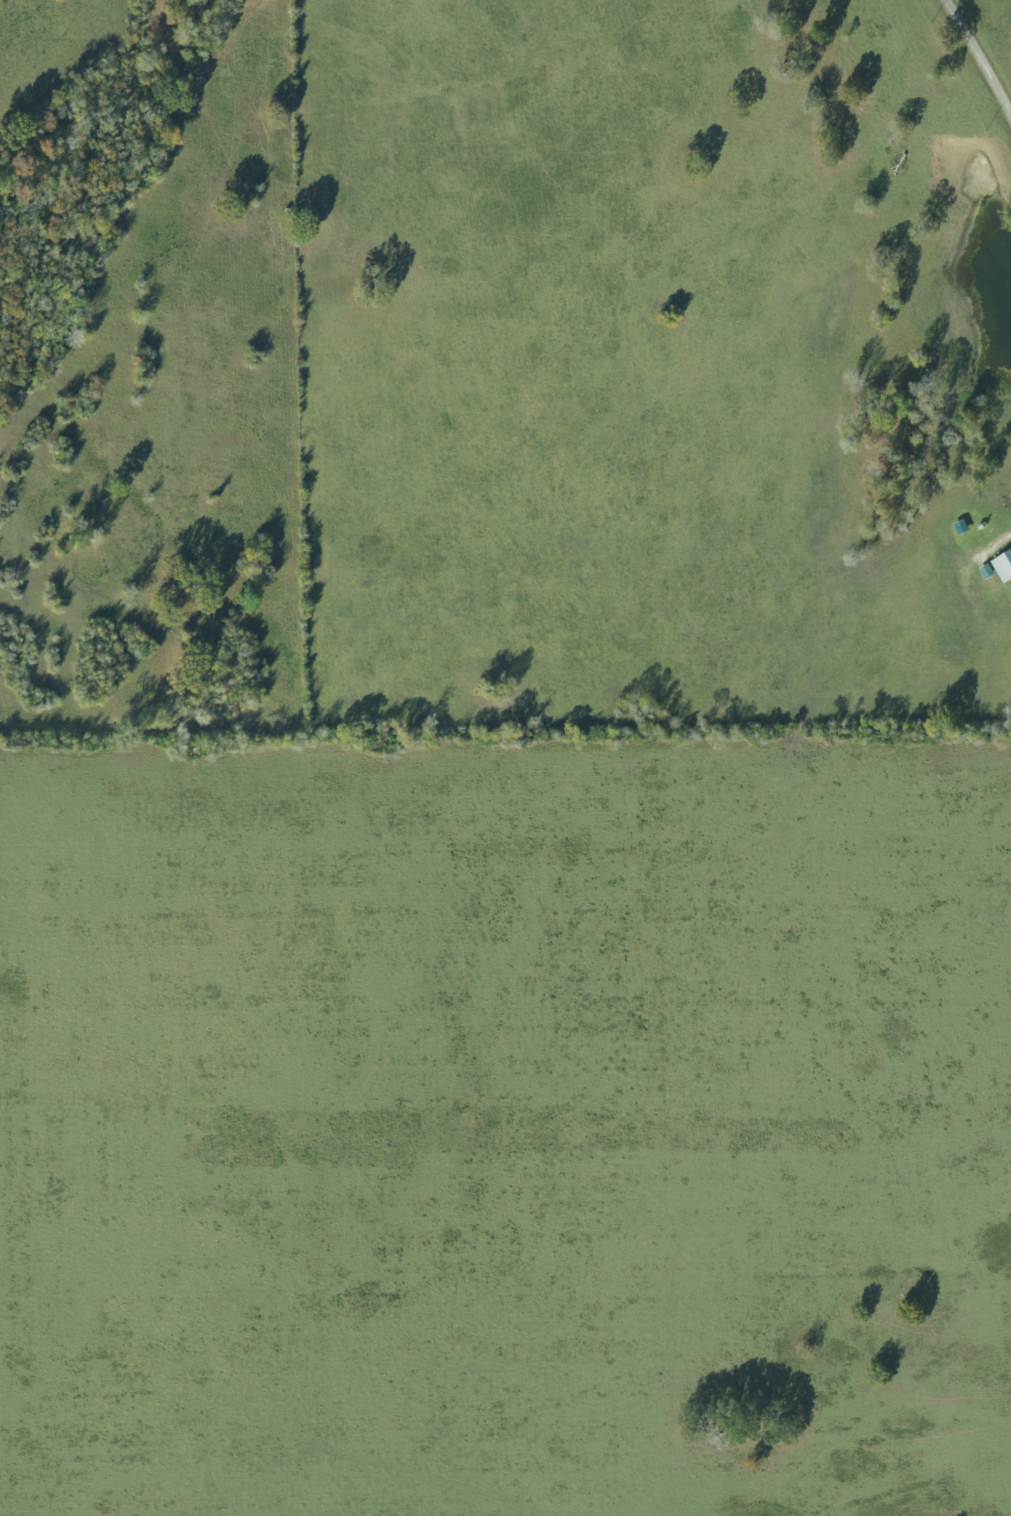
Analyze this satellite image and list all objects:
road: (978, 56)
building: (1006, 567)

